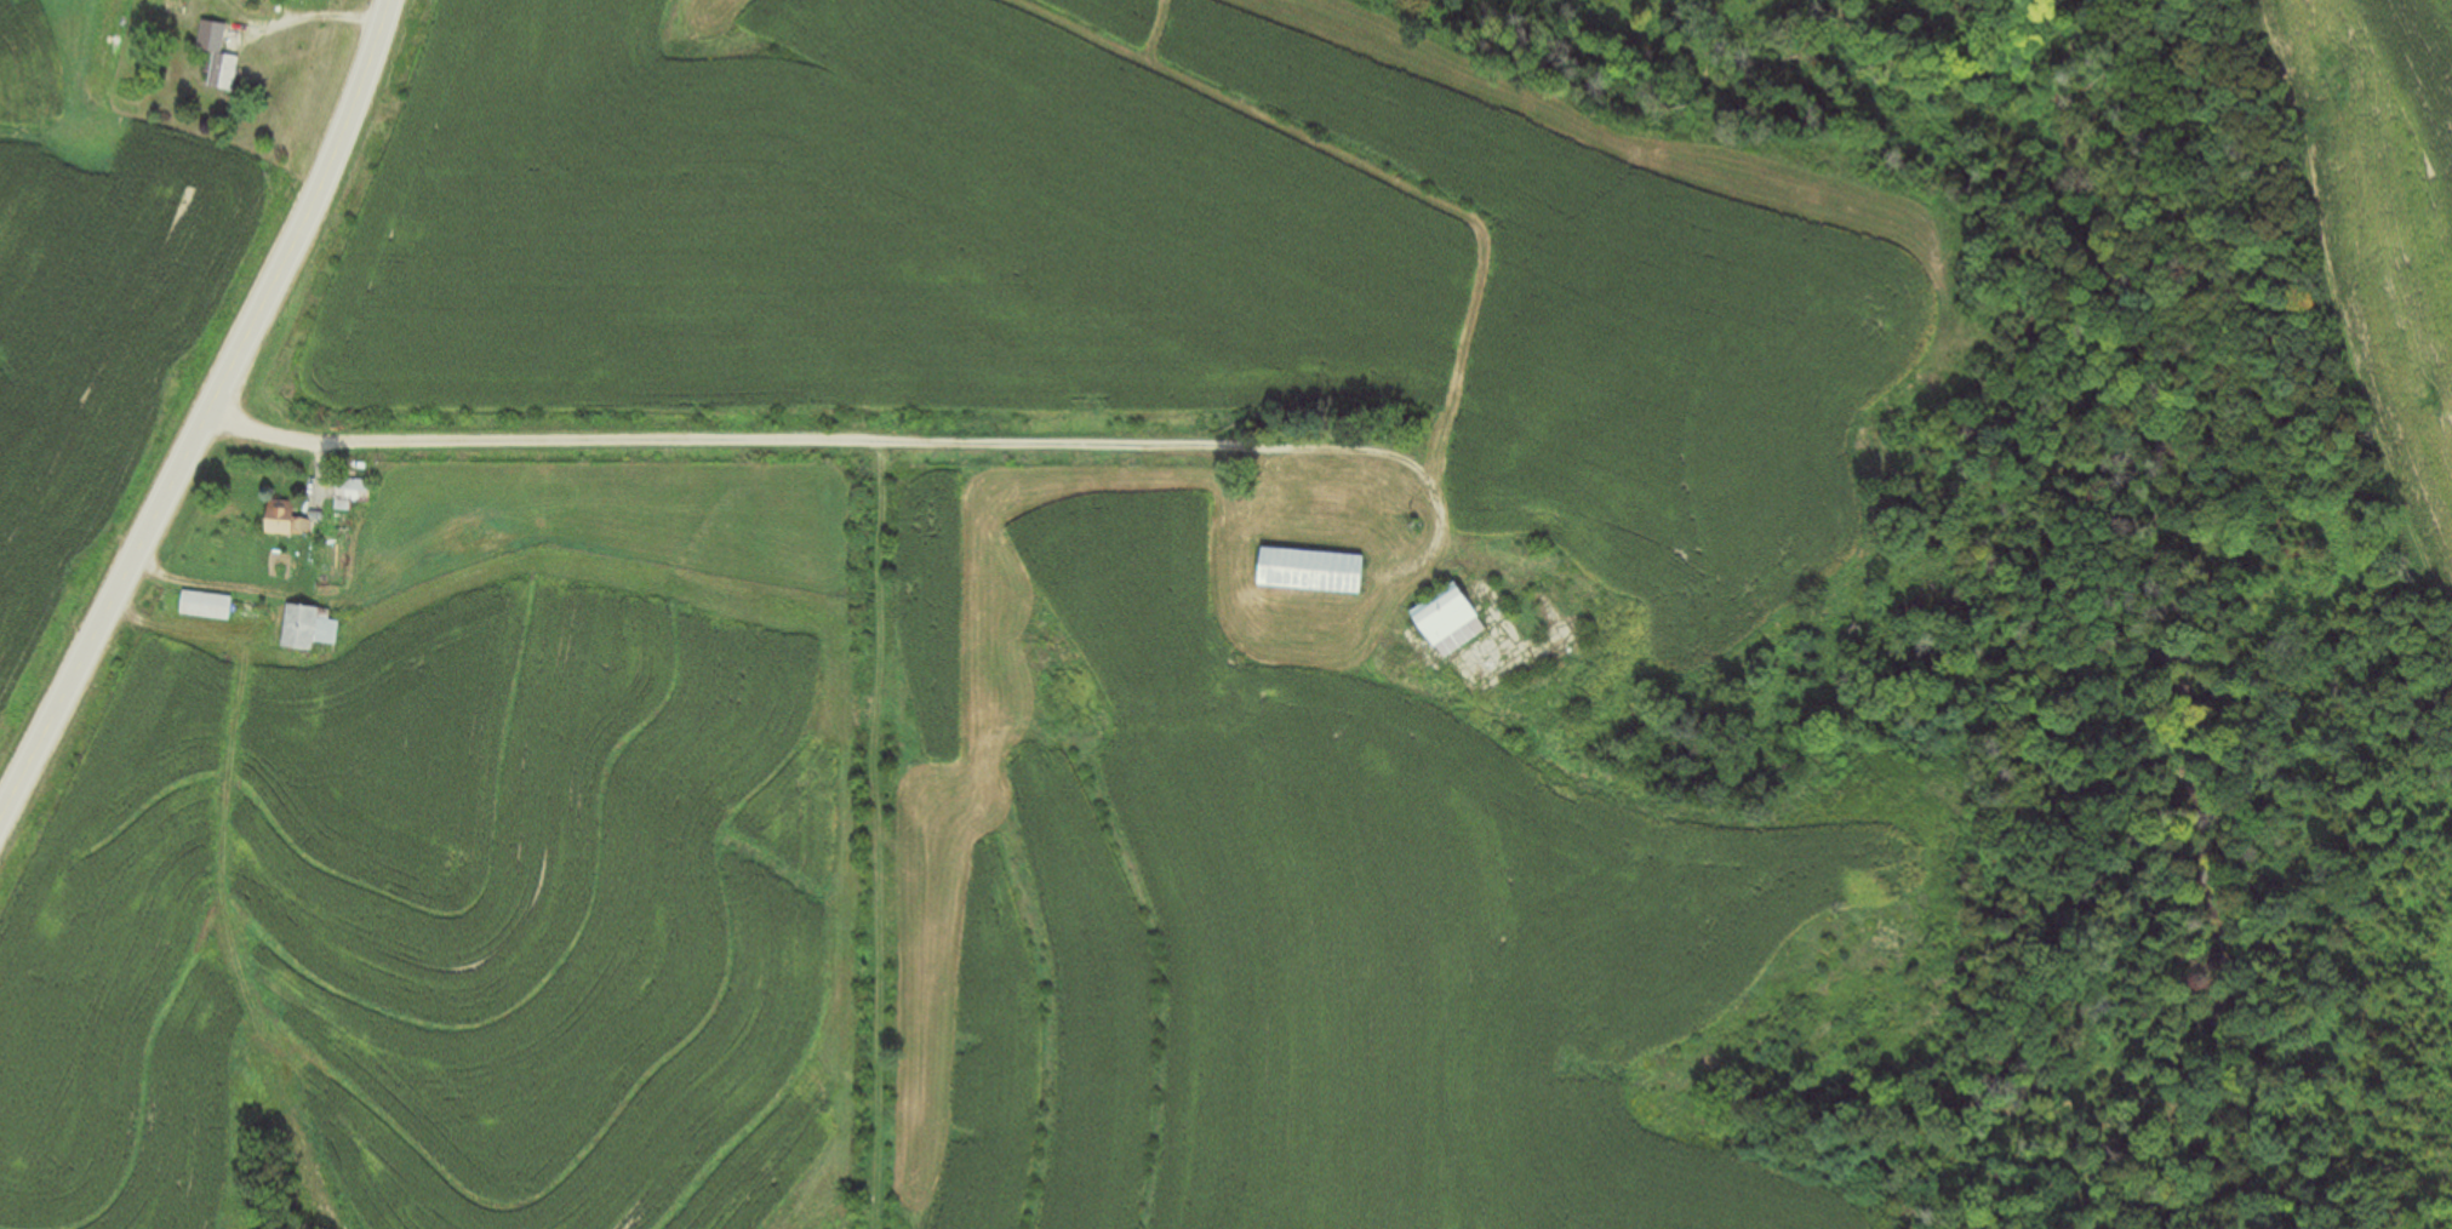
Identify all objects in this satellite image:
building: (215, 58)
road: (206, 417)
road: (775, 445)
building: (349, 492)
building: (282, 522)
building: (1304, 572)
building: (204, 605)
building: (1442, 623)
building: (307, 631)

